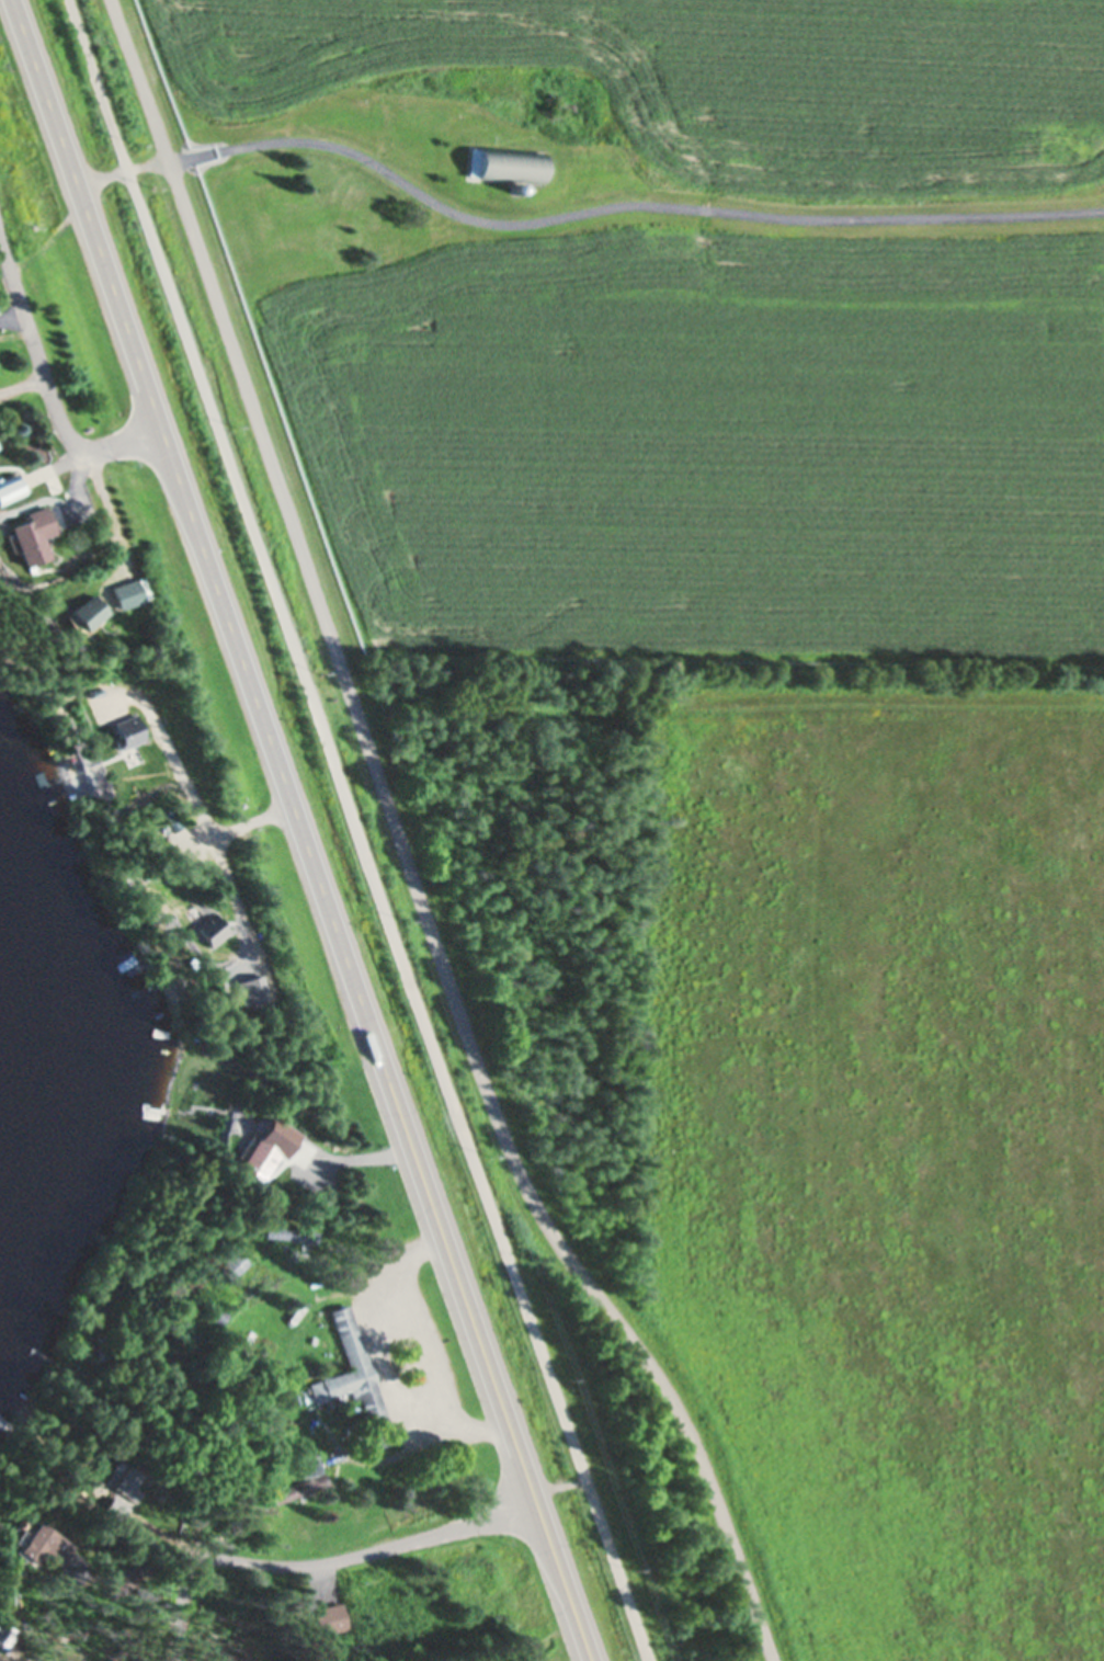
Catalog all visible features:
building: (510, 164)
building: (515, 186)
road: (577, 214)
road: (52, 399)
building: (50, 480)
building: (59, 485)
building: (10, 488)
building: (32, 535)
building: (90, 613)
road: (357, 830)
road: (298, 831)
road: (405, 849)
building: (213, 928)
building: (195, 958)
building: (264, 1147)
building: (266, 1203)
building: (289, 1232)
building: (232, 1262)
building: (214, 1312)
building: (103, 1344)
building: (356, 1377)
building: (309, 1464)
building: (125, 1479)
building: (300, 1487)
building: (118, 1502)
building: (20, 1518)
building: (45, 1541)
road: (345, 1559)
building: (330, 1615)
building: (2, 1630)

